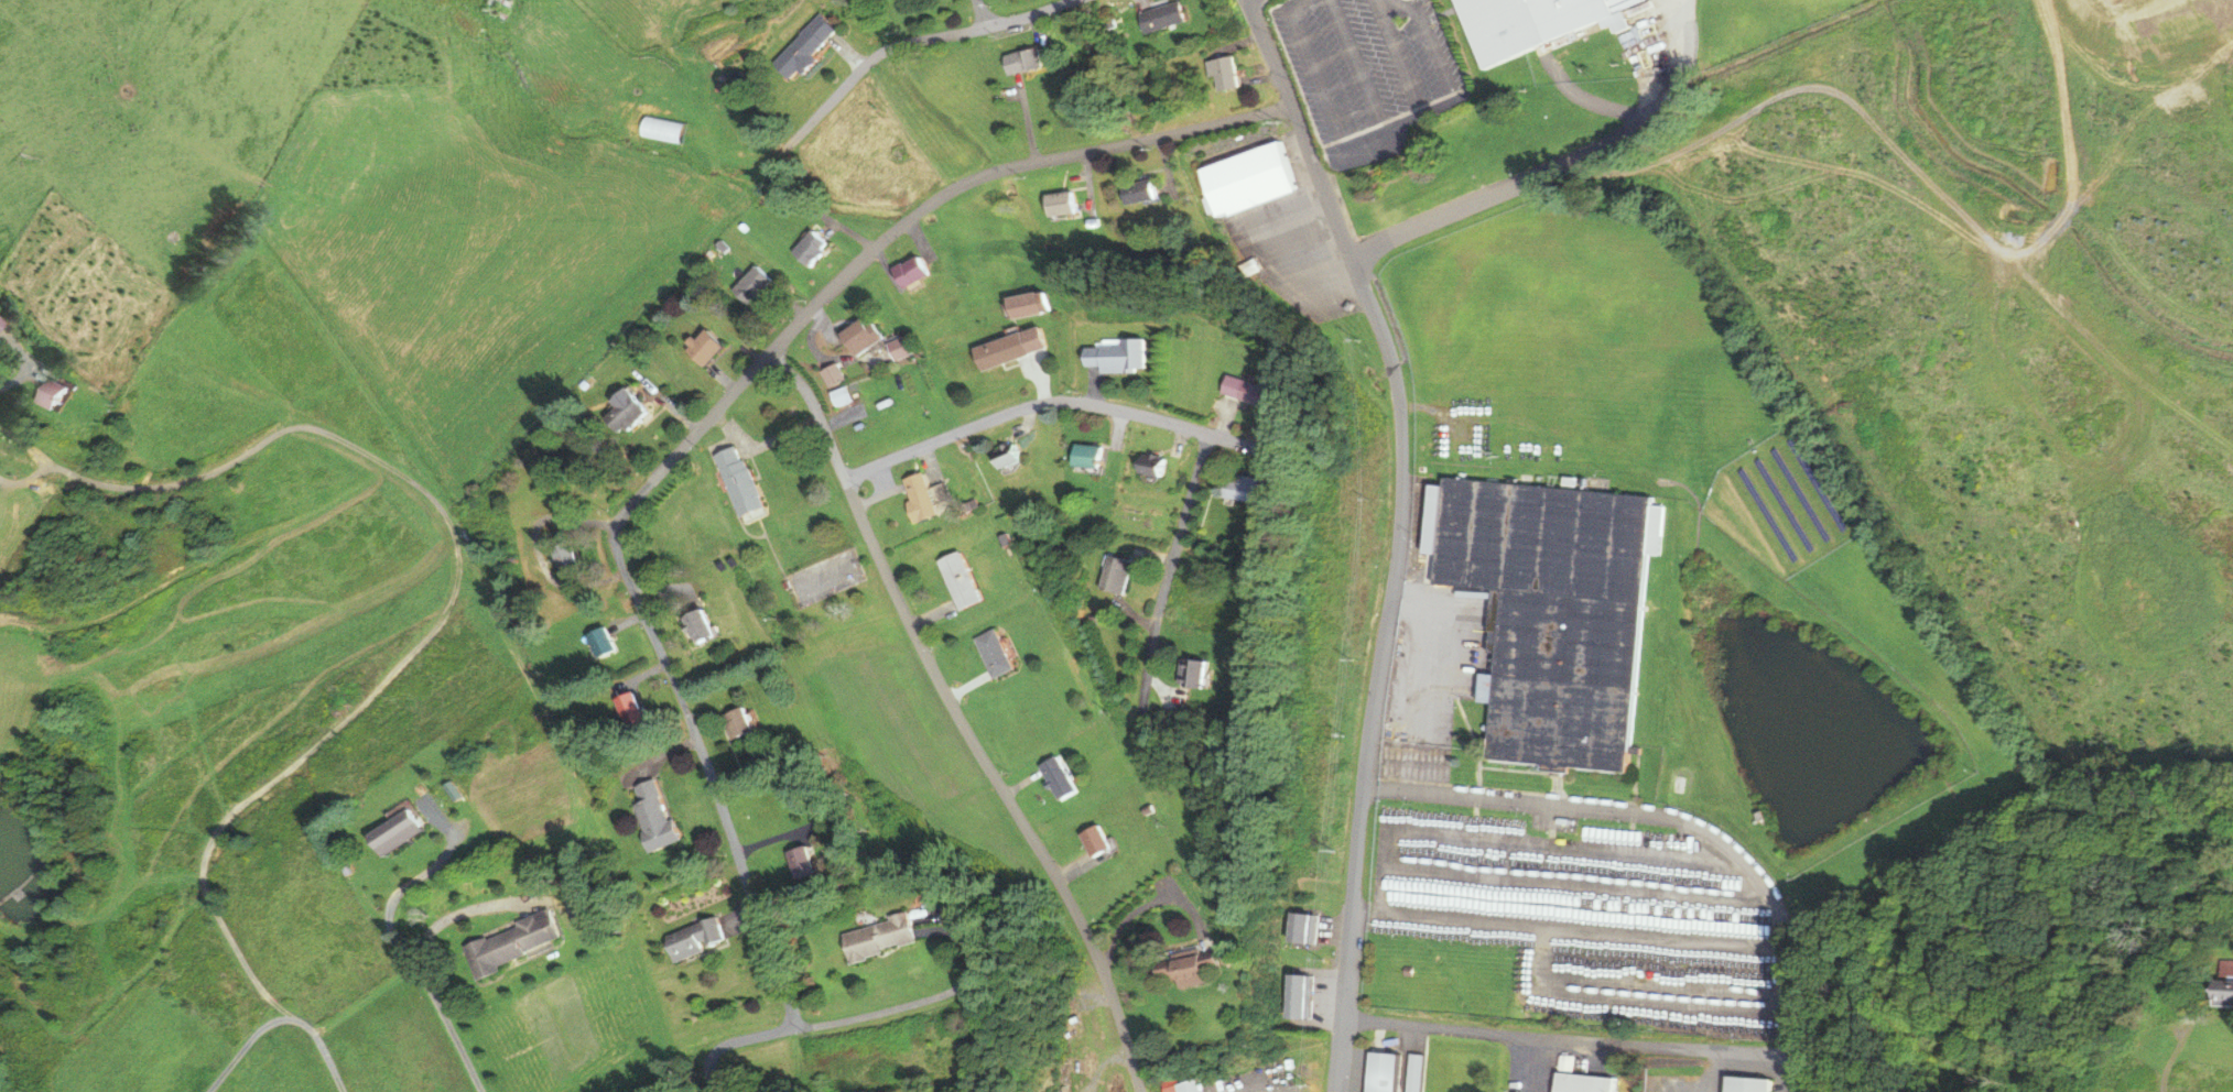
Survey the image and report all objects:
building: (496, 4)
road: (980, 13)
building: (1160, 15)
building: (1524, 23)
building: (803, 47)
road: (1397, 54)
building: (1021, 59)
building: (1223, 72)
road: (1406, 124)
road: (1640, 130)
road: (792, 140)
road: (1359, 146)
road: (999, 168)
building: (1244, 179)
building: (1136, 190)
building: (1059, 204)
building: (806, 248)
building: (907, 272)
building: (750, 285)
building: (1021, 305)
building: (854, 335)
building: (702, 347)
building: (1007, 347)
building: (1114, 356)
building: (832, 374)
building: (1245, 390)
building: (50, 393)
road: (1048, 401)
building: (620, 411)
building: (1086, 456)
building: (1005, 457)
building: (1149, 469)
building: (736, 480)
building: (1239, 487)
building: (919, 496)
road: (438, 501)
road: (1397, 532)
building: (562, 556)
road: (203, 566)
road: (1169, 568)
building: (1115, 575)
building: (956, 580)
building: (1549, 613)
building: (698, 626)
building: (598, 642)
building: (990, 653)
building: (1189, 673)
building: (629, 709)
road: (956, 720)
road: (690, 722)
building: (738, 722)
building: (1056, 777)
building: (652, 815)
road: (1684, 816)
building: (393, 832)
building: (1095, 840)
building: (799, 862)
road: (427, 872)
building: (576, 903)
road: (459, 911)
road: (387, 928)
building: (1302, 928)
building: (877, 938)
building: (693, 939)
building: (507, 943)
building: (2227, 964)
road: (247, 967)
building: (1183, 967)
building: (2223, 991)
building: (1299, 996)
road: (890, 1005)
road: (112, 1022)
road: (1552, 1041)
road: (241, 1053)
building: (1383, 1072)
building: (1414, 1073)
building: (1581, 1083)
building: (1180, 1085)

